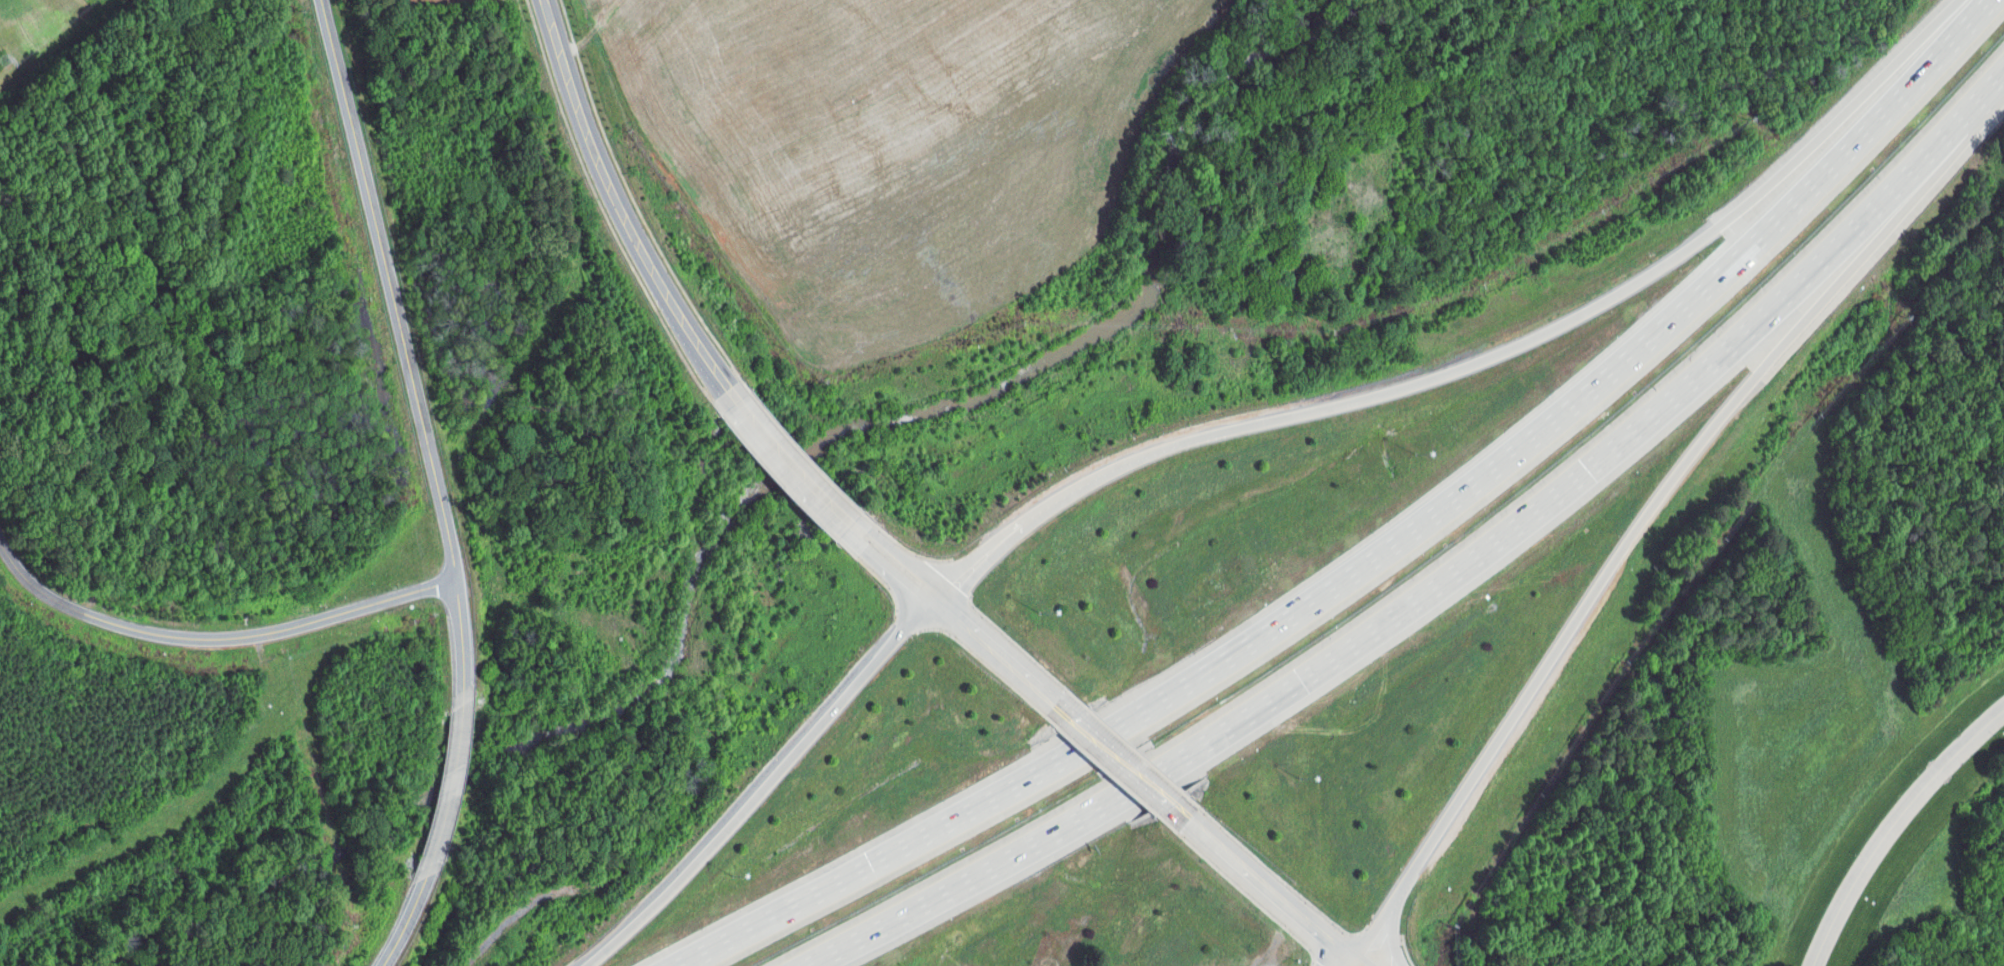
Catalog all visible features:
power tower: (3, 59)
road: (1831, 124)
road: (613, 205)
road: (1785, 339)
road: (401, 342)
road: (776, 466)
road: (1066, 488)
road: (1385, 552)
road: (1442, 566)
road: (949, 625)
road: (214, 639)
road: (1111, 762)
road: (446, 784)
road: (1463, 790)
road: (1893, 828)
road: (1256, 884)
road: (401, 922)
road: (1351, 964)

